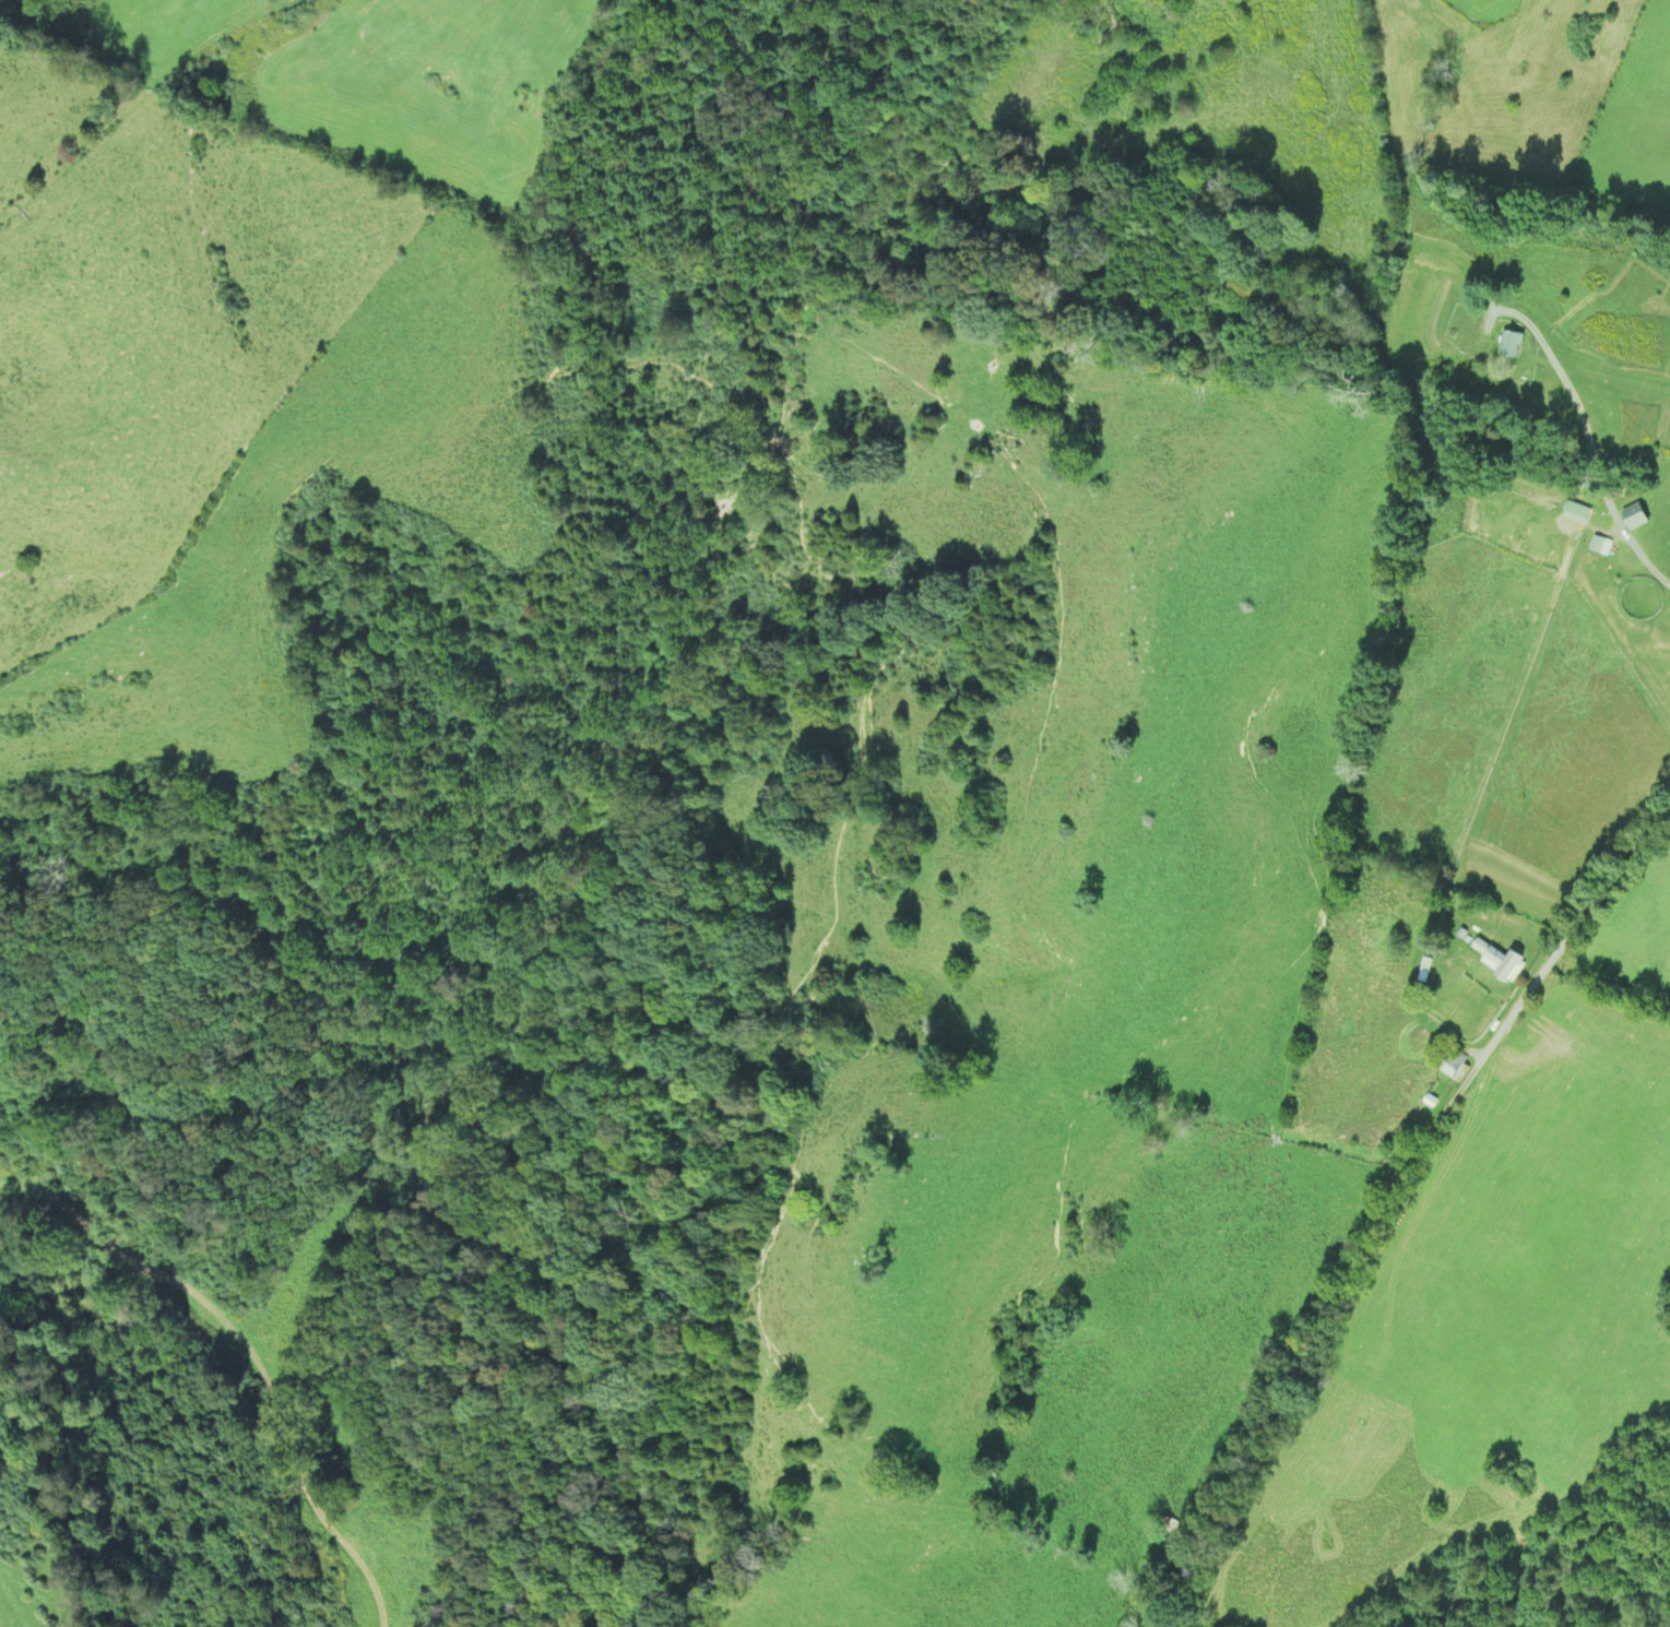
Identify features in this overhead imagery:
building: (1506, 344)
building: (1574, 512)
building: (1632, 519)
building: (1598, 546)
road: (1586, 926)
building: (1497, 962)
building: (1423, 971)
building: (1452, 1066)
building: (1165, 1525)

